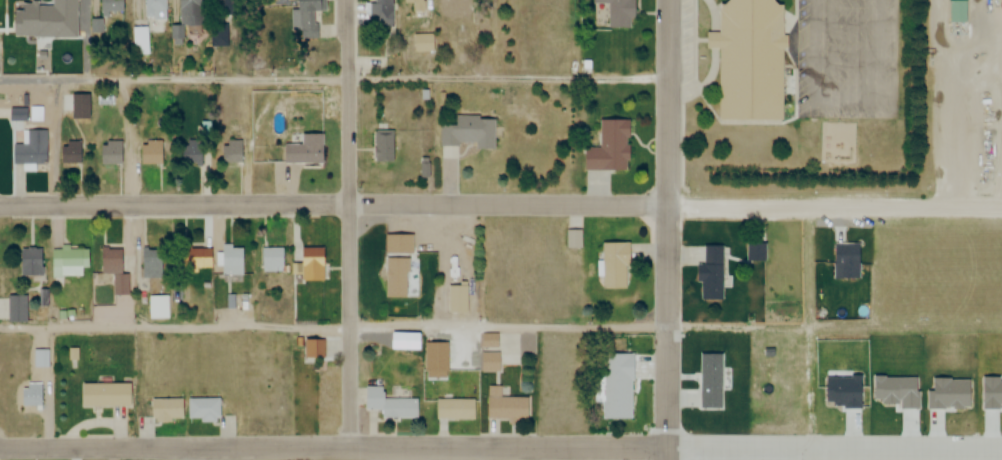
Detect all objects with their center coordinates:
building: (235, 4)
building: (111, 6)
building: (451, 7)
building: (413, 8)
building: (153, 9)
building: (74, 10)
building: (956, 11)
building: (617, 13)
building: (29, 14)
building: (382, 14)
building: (307, 17)
building: (187, 18)
building: (219, 37)
building: (140, 41)
building: (422, 43)
building: (748, 60)
road: (335, 82)
building: (468, 133)
building: (383, 147)
building: (30, 148)
building: (608, 148)
building: (230, 151)
building: (70, 152)
building: (310, 152)
building: (110, 153)
building: (151, 154)
building: (190, 154)
road: (501, 205)
road: (351, 223)
road: (670, 230)
building: (573, 240)
building: (397, 245)
building: (195, 258)
building: (270, 260)
building: (232, 261)
building: (72, 262)
building: (151, 262)
building: (30, 263)
building: (311, 264)
building: (614, 266)
building: (114, 271)
building: (710, 274)
building: (395, 278)
building: (457, 299)
building: (158, 308)
building: (15, 309)
road: (334, 327)
building: (488, 340)
building: (489, 362)
building: (615, 386)
building: (31, 394)
building: (105, 395)
building: (389, 405)
building: (506, 407)
building: (453, 408)
building: (203, 410)
building: (165, 411)
road: (501, 448)

